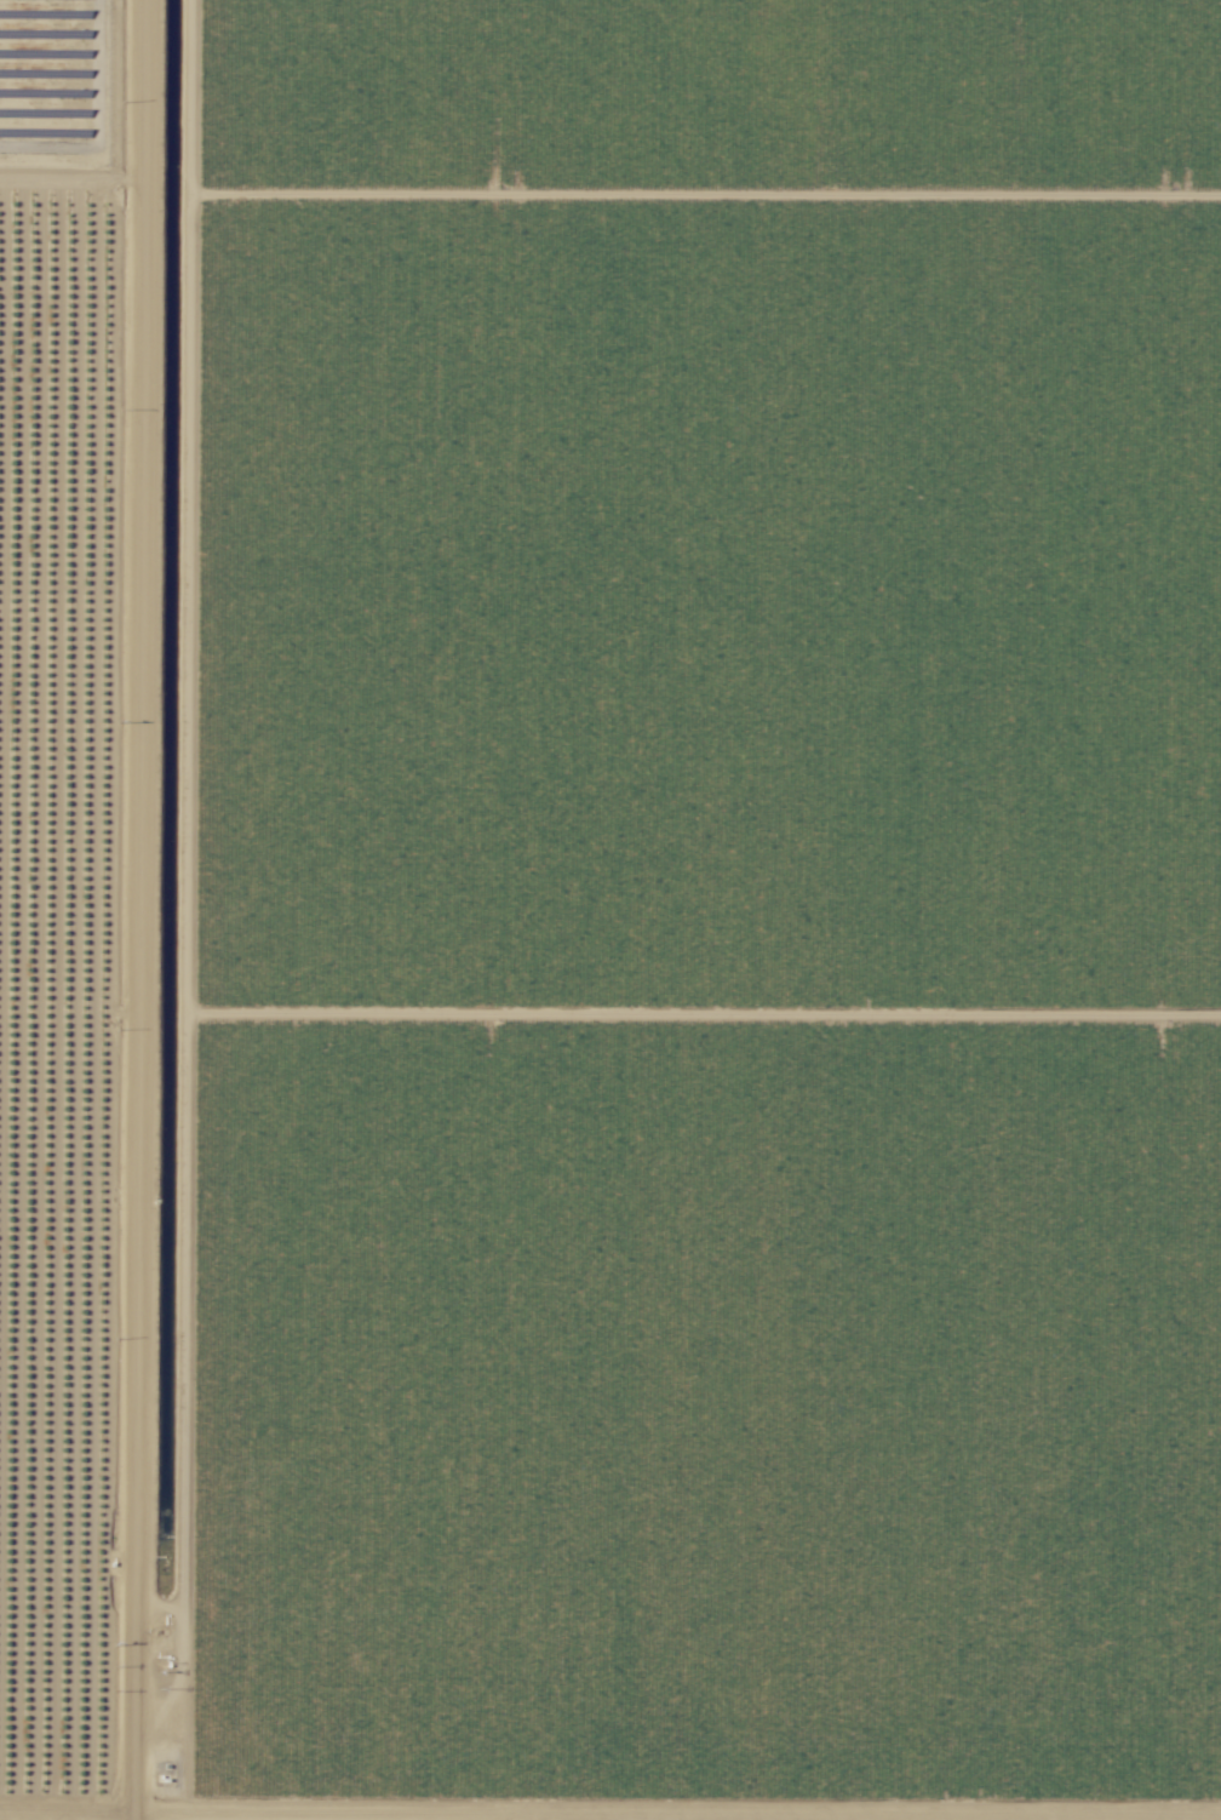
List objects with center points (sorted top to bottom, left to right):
crop: (687, 792)
crop: (76, 904)
road: (130, 910)
crop: (686, 1702)

